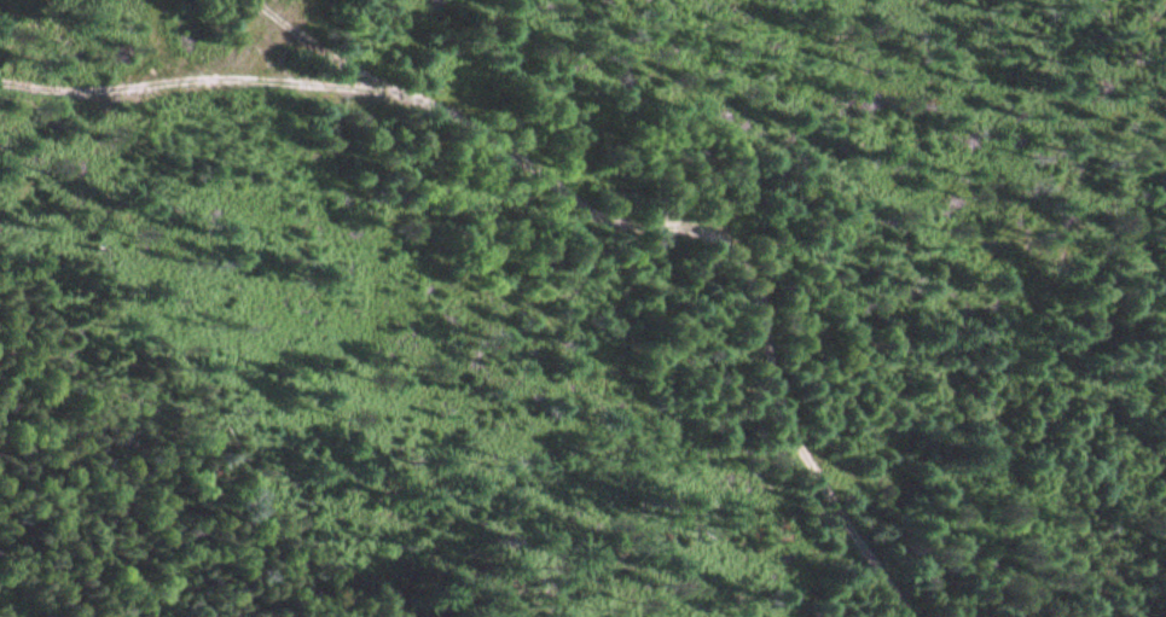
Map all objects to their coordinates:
road: (563, 191)

